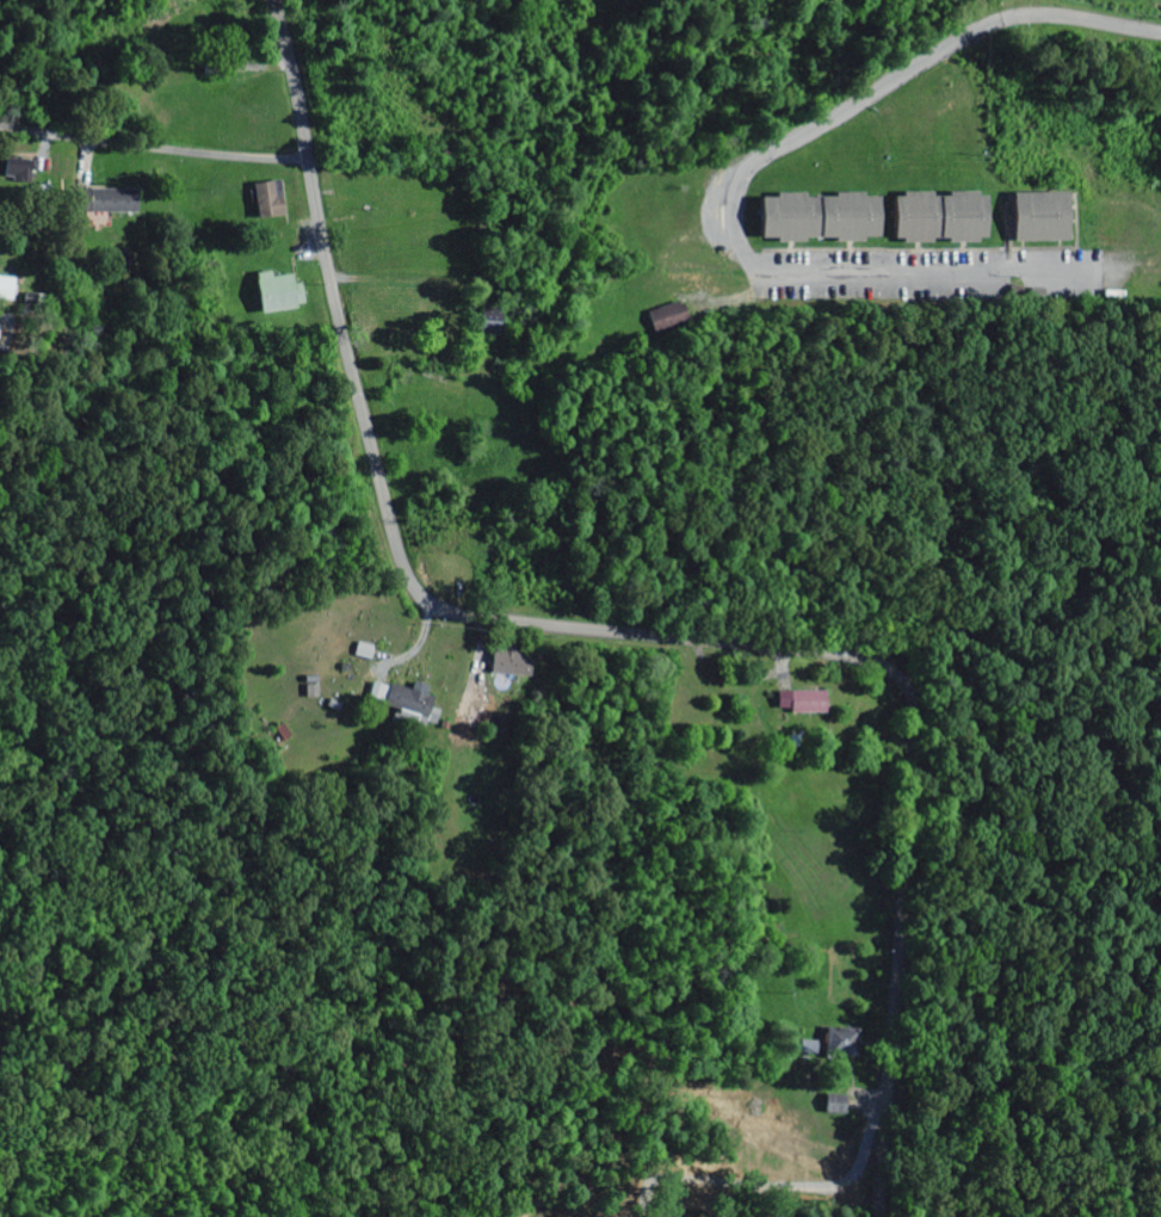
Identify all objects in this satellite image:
road: (153, 147)
road: (752, 166)
building: (21, 169)
building: (110, 202)
building: (263, 202)
building: (811, 220)
building: (932, 220)
building: (1029, 220)
building: (8, 289)
building: (272, 295)
road: (622, 634)
building: (500, 662)
building: (403, 702)
building: (799, 704)
building: (838, 1052)
building: (832, 1106)

